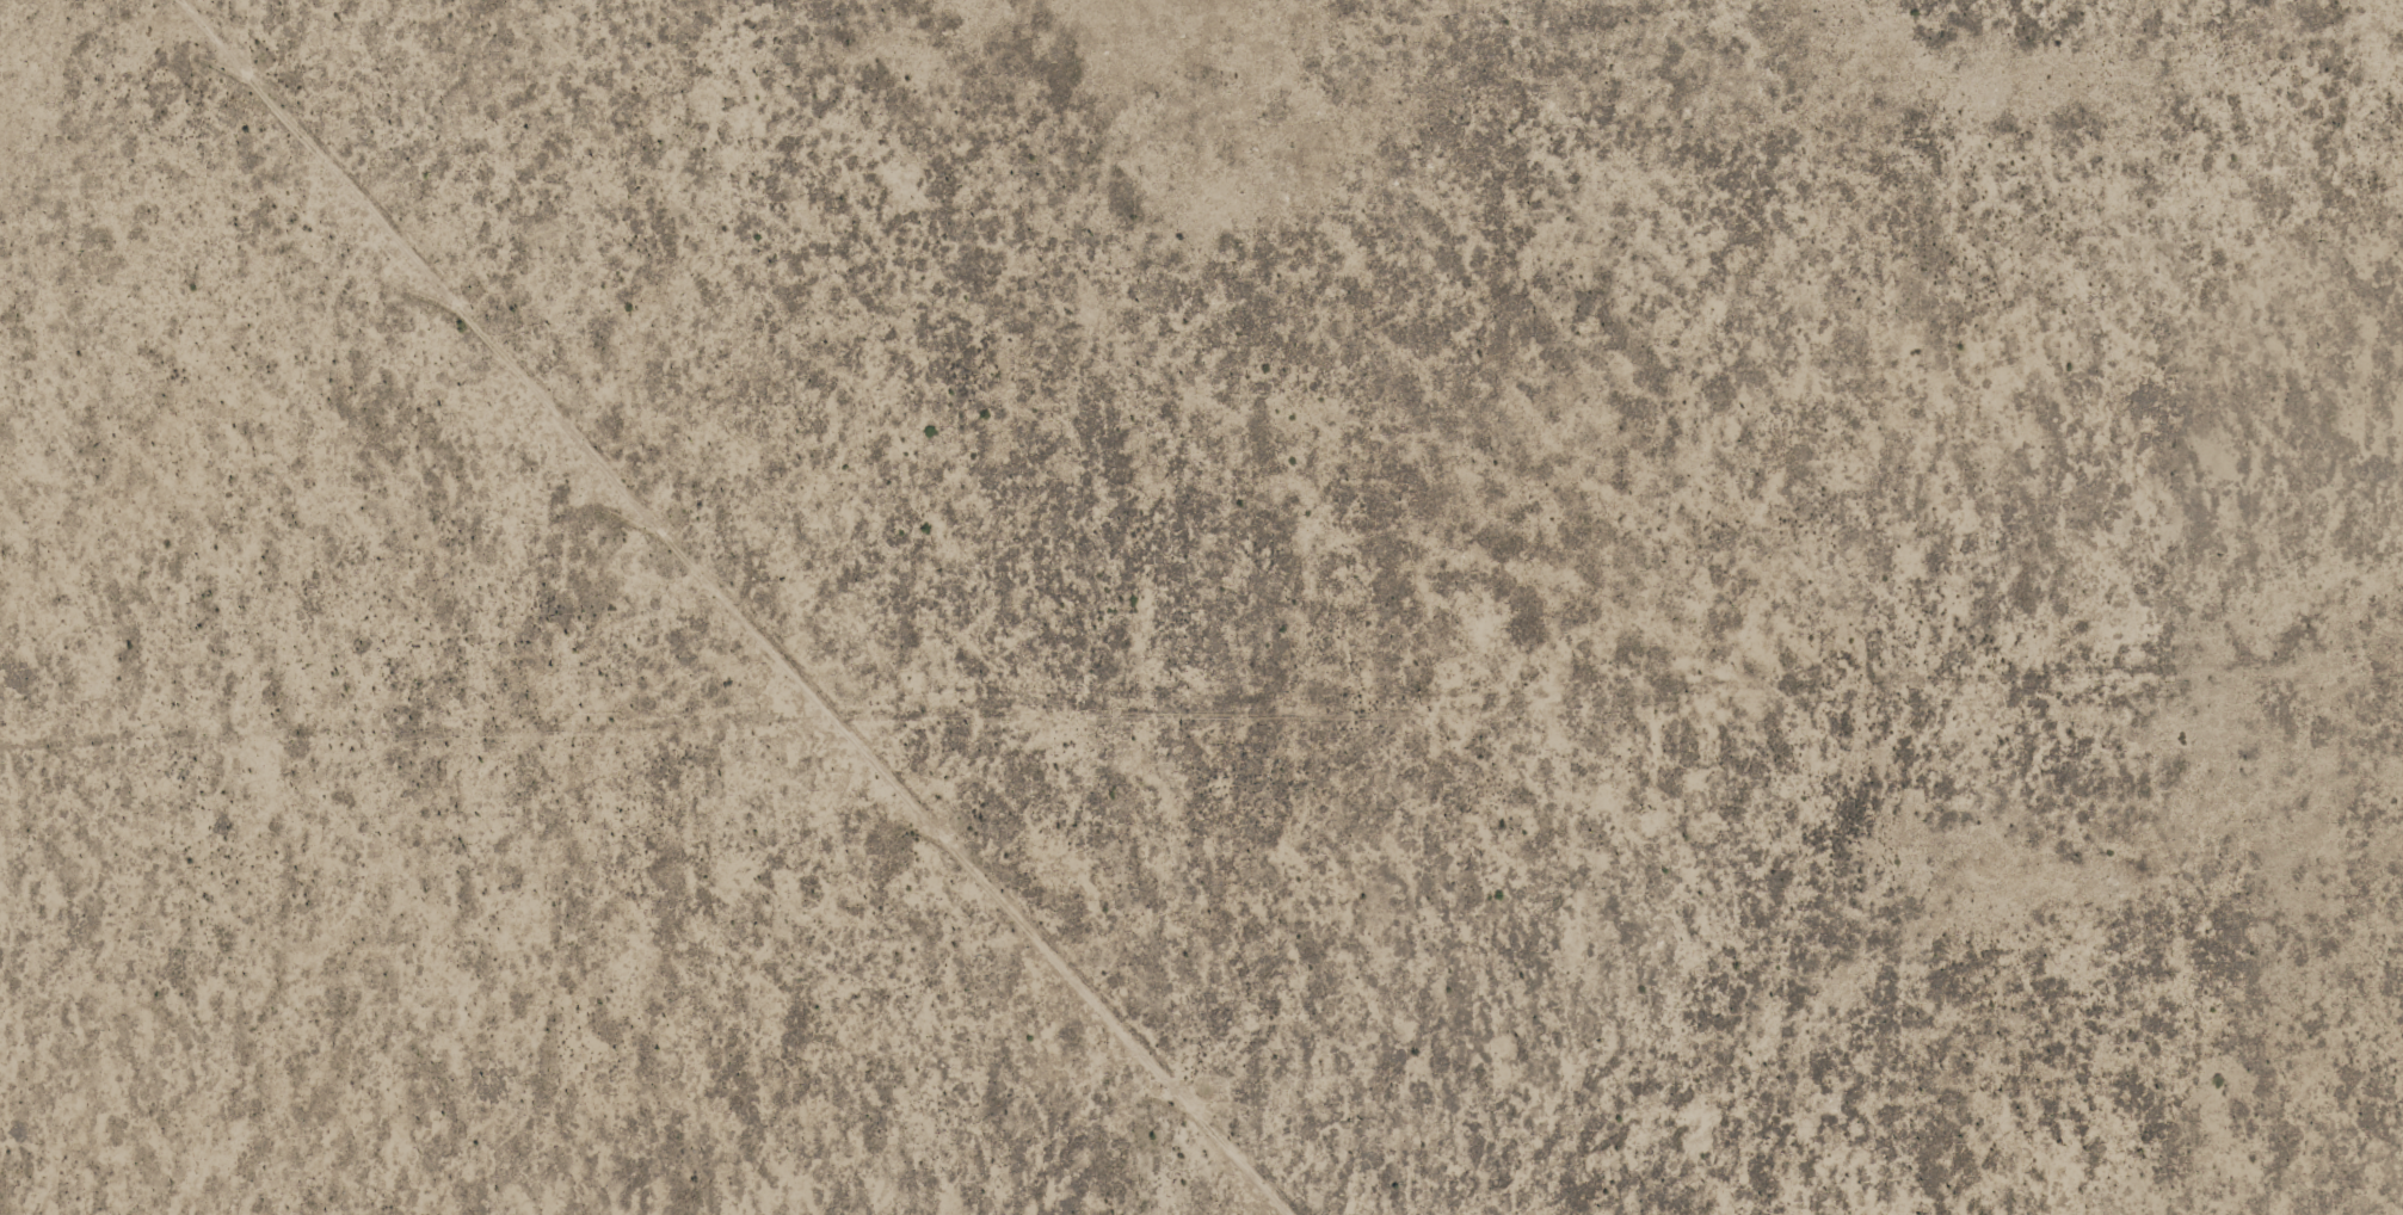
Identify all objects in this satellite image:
road: (684, 607)

